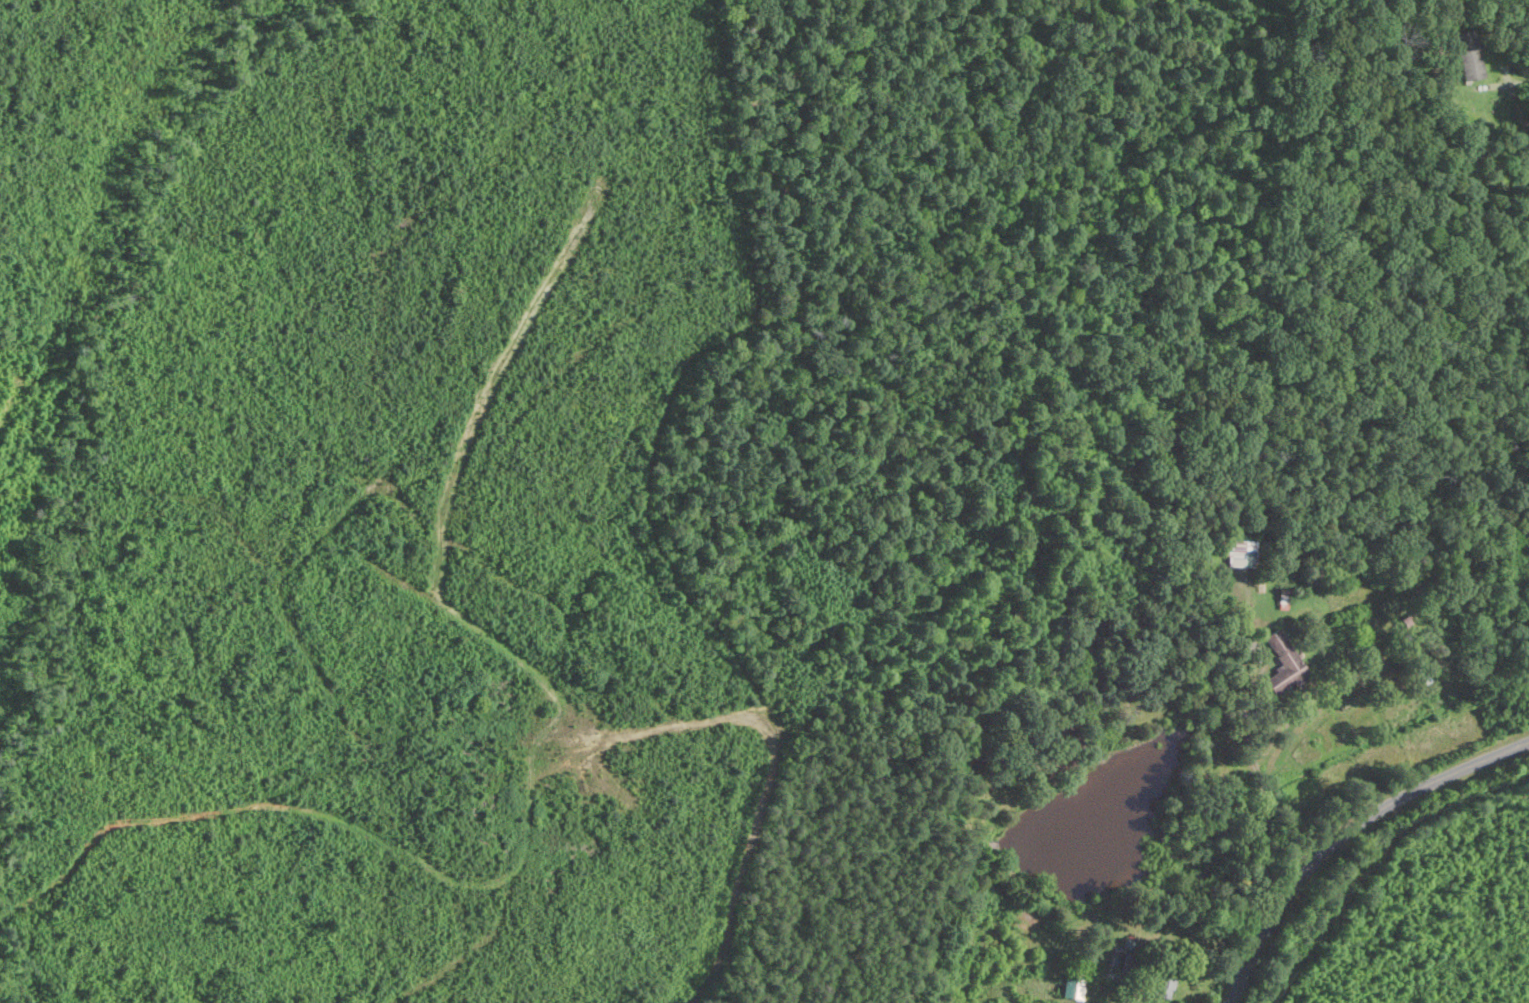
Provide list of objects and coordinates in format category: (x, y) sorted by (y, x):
road: (1521, 81)
building: (1242, 559)
road: (1234, 666)
building: (1286, 669)
road: (1252, 760)
road: (1345, 835)

